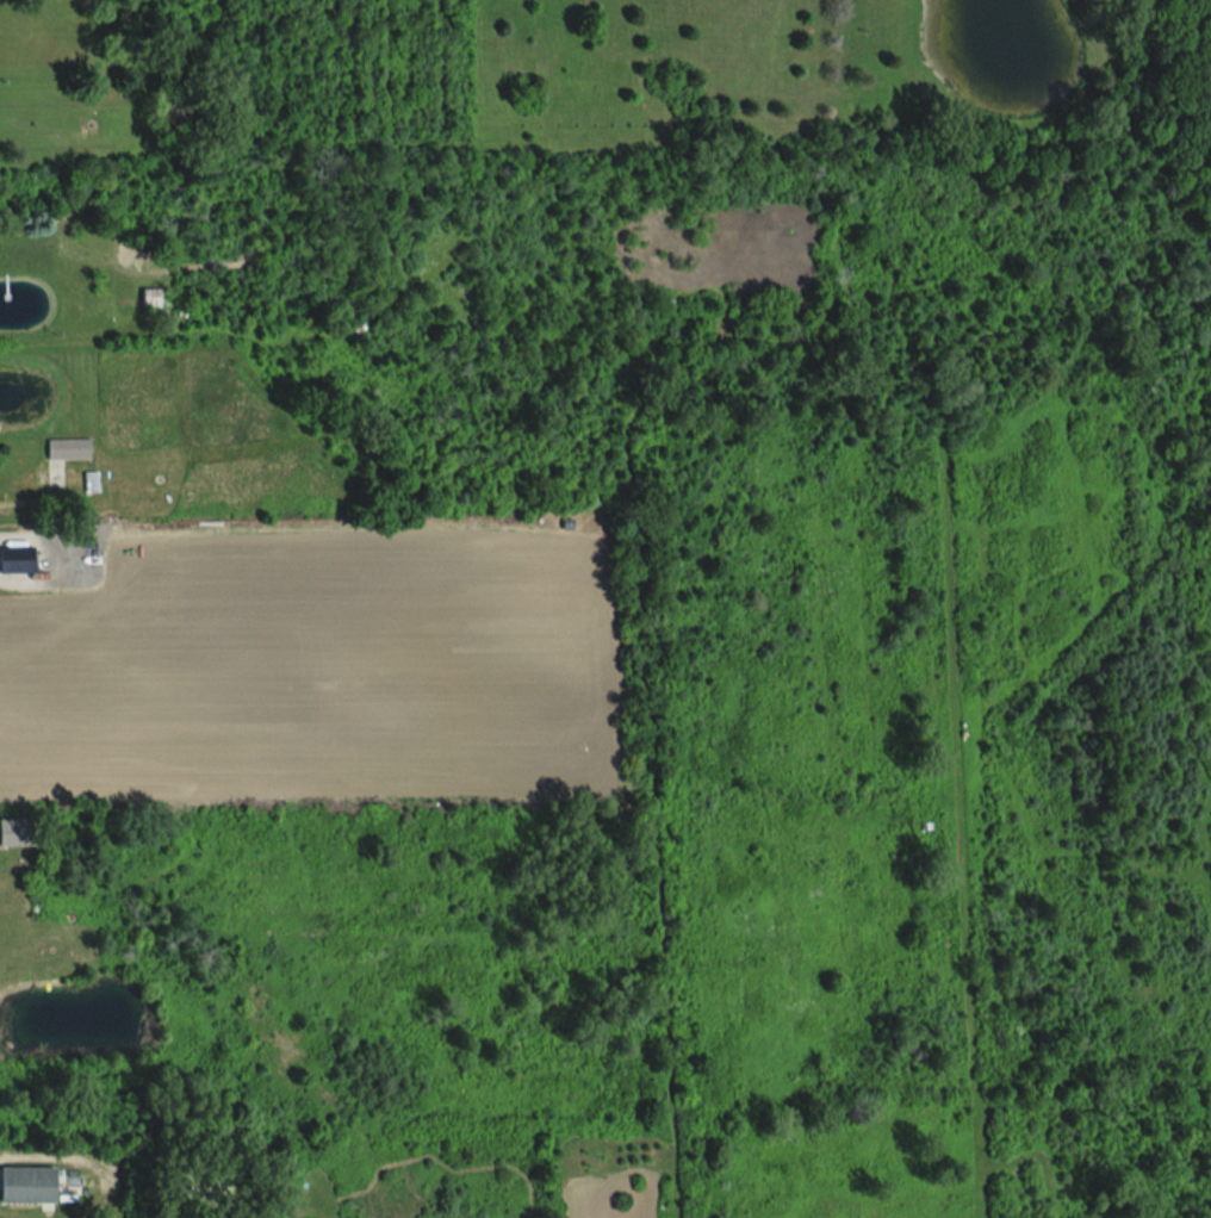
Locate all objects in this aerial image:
building: (150, 296)
building: (66, 448)
building: (88, 481)
building: (13, 559)
crop: (317, 659)
building: (8, 834)

